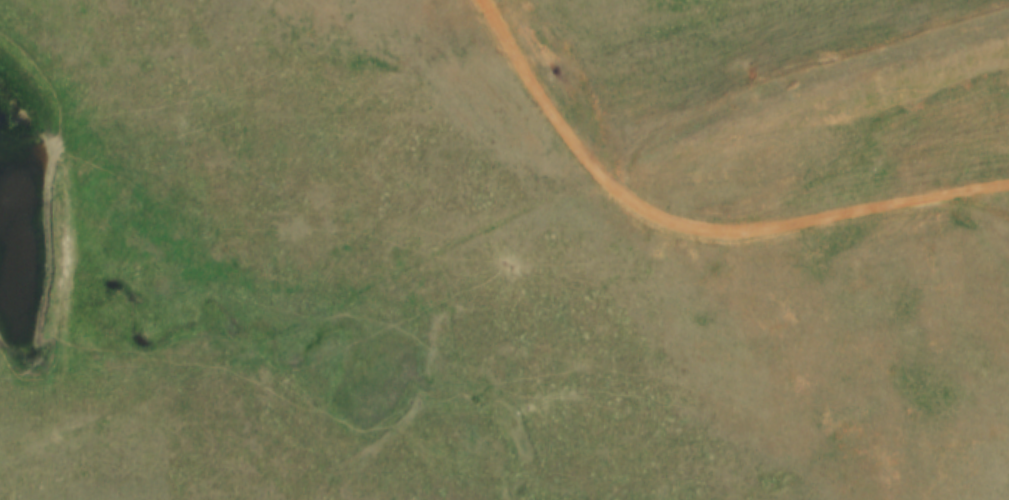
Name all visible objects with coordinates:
road: (698, 220)

